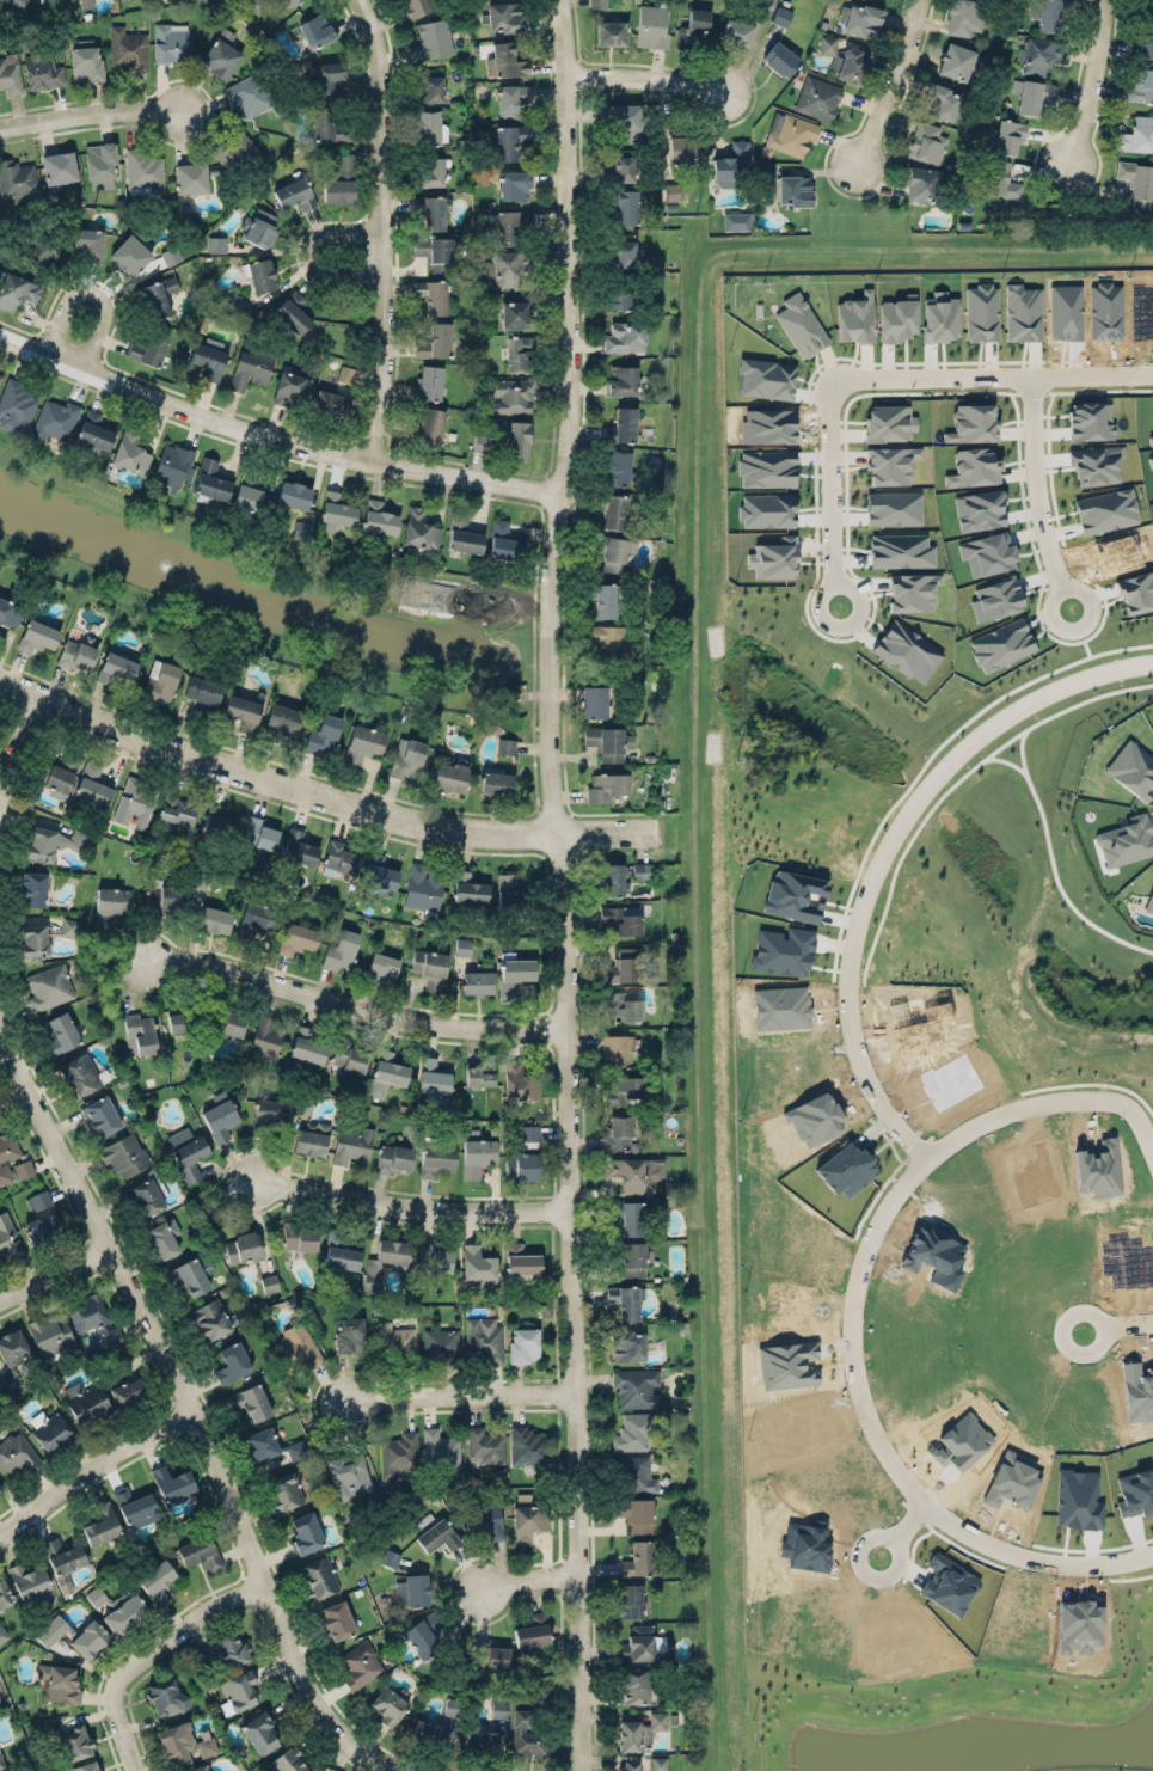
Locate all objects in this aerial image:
building: (121, 0)
building: (292, 1)
building: (13, 4)
building: (85, 4)
building: (597, 4)
building: (765, 5)
building: (418, 6)
building: (1145, 7)
building: (155, 13)
building: (1045, 14)
building: (781, 16)
building: (502, 17)
building: (965, 17)
building: (859, 19)
building: (652, 25)
building: (317, 30)
building: (693, 30)
building: (737, 32)
building: (612, 33)
building: (431, 38)
building: (170, 41)
building: (1147, 41)
building: (128, 48)
building: (1042, 54)
building: (220, 57)
building: (780, 59)
building: (844, 60)
building: (505, 61)
building: (956, 61)
building: (86, 63)
building: (42, 71)
road: (648, 72)
building: (10, 73)
building: (326, 78)
road: (896, 84)
building: (1141, 85)
road: (1096, 87)
building: (428, 90)
building: (249, 94)
building: (1035, 97)
building: (513, 98)
building: (817, 98)
building: (939, 102)
road: (88, 112)
building: (623, 120)
building: (325, 124)
building: (429, 127)
building: (790, 134)
building: (1007, 134)
building: (1136, 135)
building: (508, 140)
building: (926, 142)
building: (683, 149)
building: (238, 154)
building: (732, 163)
building: (100, 165)
building: (623, 165)
building: (59, 167)
building: (145, 168)
building: (430, 171)
building: (190, 177)
building: (1137, 178)
building: (766, 179)
building: (17, 180)
building: (342, 180)
building: (1000, 180)
building: (514, 184)
building: (921, 184)
building: (793, 190)
building: (670, 191)
building: (294, 194)
building: (623, 208)
building: (431, 212)
building: (736, 221)
building: (1151, 222)
building: (507, 226)
building: (258, 227)
road: (388, 228)
building: (88, 243)
building: (216, 244)
road: (311, 250)
building: (41, 251)
building: (129, 255)
building: (170, 255)
building: (441, 255)
building: (620, 255)
building: (508, 265)
building: (259, 274)
road: (92, 289)
building: (17, 290)
building: (159, 295)
building: (431, 295)
building: (618, 298)
building: (292, 313)
building: (516, 313)
building: (981, 313)
building: (1023, 313)
building: (939, 317)
building: (854, 318)
building: (896, 318)
building: (801, 325)
building: (625, 336)
building: (435, 342)
building: (151, 348)
building: (519, 353)
building: (208, 360)
building: (249, 370)
building: (346, 374)
building: (1, 375)
road: (882, 375)
building: (623, 380)
building: (428, 381)
building: (292, 387)
building: (511, 394)
building: (331, 403)
building: (16, 406)
building: (54, 419)
building: (888, 423)
building: (973, 423)
building: (621, 425)
building: (427, 427)
building: (94, 430)
road: (272, 436)
building: (519, 439)
building: (480, 442)
building: (130, 452)
building: (890, 464)
building: (173, 465)
building: (618, 467)
building: (210, 480)
road: (1036, 494)
building: (247, 495)
building: (294, 495)
building: (893, 508)
building: (1105, 510)
building: (336, 511)
building: (617, 511)
building: (379, 517)
building: (418, 528)
building: (301, 532)
building: (464, 535)
building: (505, 541)
building: (900, 550)
building: (615, 554)
building: (910, 592)
building: (603, 599)
building: (994, 599)
building: (10, 613)
building: (37, 637)
building: (611, 642)
building: (1000, 644)
building: (906, 651)
building: (75, 655)
building: (116, 668)
building: (160, 681)
building: (203, 693)
building: (594, 701)
building: (244, 711)
building: (281, 722)
building: (323, 735)
building: (608, 742)
road: (16, 743)
building: (363, 743)
building: (505, 746)
building: (406, 755)
building: (1133, 766)
building: (448, 772)
building: (62, 773)
building: (495, 782)
building: (92, 786)
building: (606, 786)
road: (317, 792)
building: (134, 802)
building: (178, 811)
building: (216, 823)
building: (259, 828)
building: (51, 840)
building: (1126, 840)
building: (298, 846)
building: (339, 859)
building: (378, 870)
building: (639, 871)
building: (611, 874)
road: (556, 884)
building: (32, 888)
building: (422, 888)
building: (468, 889)
building: (507, 891)
building: (795, 895)
building: (162, 896)
building: (1151, 899)
building: (111, 905)
building: (213, 914)
building: (253, 918)
building: (619, 919)
building: (43, 936)
building: (296, 938)
building: (462, 946)
building: (341, 950)
building: (783, 950)
building: (430, 966)
building: (381, 967)
building: (621, 967)
building: (514, 974)
building: (476, 976)
road: (847, 979)
building: (49, 987)
road: (346, 999)
building: (618, 1005)
building: (180, 1022)
building: (227, 1022)
building: (60, 1031)
building: (137, 1031)
building: (265, 1036)
building: (307, 1046)
building: (615, 1046)
building: (348, 1056)
building: (388, 1066)
building: (79, 1071)
building: (479, 1072)
building: (433, 1078)
building: (519, 1078)
building: (621, 1090)
road: (12, 1092)
building: (268, 1111)
building: (100, 1116)
building: (220, 1116)
building: (617, 1130)
building: (529, 1133)
building: (311, 1138)
building: (352, 1144)
building: (186, 1152)
building: (6, 1153)
building: (124, 1154)
building: (434, 1157)
building: (477, 1157)
building: (393, 1158)
building: (521, 1165)
building: (23, 1168)
building: (633, 1170)
building: (143, 1193)
building: (37, 1200)
road: (410, 1201)
building: (627, 1211)
building: (42, 1230)
building: (298, 1234)
building: (8, 1236)
building: (161, 1237)
building: (244, 1245)
building: (339, 1249)
building: (433, 1255)
building: (520, 1257)
building: (384, 1260)
building: (633, 1260)
building: (478, 1266)
building: (190, 1273)
road: (54, 1275)
building: (269, 1283)
building: (625, 1299)
building: (91, 1315)
building: (209, 1317)
road: (1134, 1326)
building: (349, 1332)
building: (50, 1334)
road: (1062, 1337)
building: (483, 1338)
building: (395, 1340)
building: (523, 1344)
building: (440, 1346)
building: (627, 1346)
building: (296, 1347)
building: (11, 1354)
building: (232, 1362)
building: (636, 1387)
building: (128, 1391)
road: (458, 1395)
building: (249, 1399)
building: (86, 1403)
road: (194, 1412)
building: (50, 1429)
building: (632, 1432)
building: (270, 1444)
building: (484, 1444)
building: (529, 1446)
building: (441, 1450)
road: (878, 1450)
building: (397, 1452)
building: (17, 1454)
road: (93, 1466)
building: (502, 1469)
building: (633, 1473)
building: (348, 1476)
building: (171, 1483)
building: (283, 1489)
building: (0, 1493)
building: (526, 1499)
building: (135, 1506)
building: (634, 1513)
building: (483, 1519)
building: (100, 1522)
building: (527, 1522)
road: (907, 1525)
building: (306, 1533)
building: (434, 1533)
building: (200, 1550)
road: (859, 1557)
building: (390, 1558)
building: (63, 1561)
building: (640, 1561)
building: (319, 1577)
building: (27, 1579)
building: (155, 1579)
road: (527, 1580)
building: (413, 1591)
building: (627, 1600)
building: (117, 1607)
building: (336, 1619)
building: (532, 1629)
building: (48, 1632)
building: (424, 1636)
building: (88, 1638)
building: (636, 1643)
building: (232, 1648)
road: (148, 1649)
building: (490, 1653)
building: (358, 1663)
building: (59, 1681)
building: (634, 1685)
building: (238, 1687)
building: (165, 1693)
building: (542, 1693)
building: (387, 1703)
building: (0, 1704)
building: (449, 1705)
building: (498, 1709)
building: (638, 1729)
building: (428, 1730)
building: (259, 1732)
building: (526, 1735)
building: (480, 1739)
building: (182, 1741)
building: (74, 1742)
building: (1, 1761)
building: (287, 1761)
building: (657, 1763)
building: (627, 1765)
building: (84, 1766)
building: (196, 1767)
building: (331, 1769)
building: (216, 1770)

